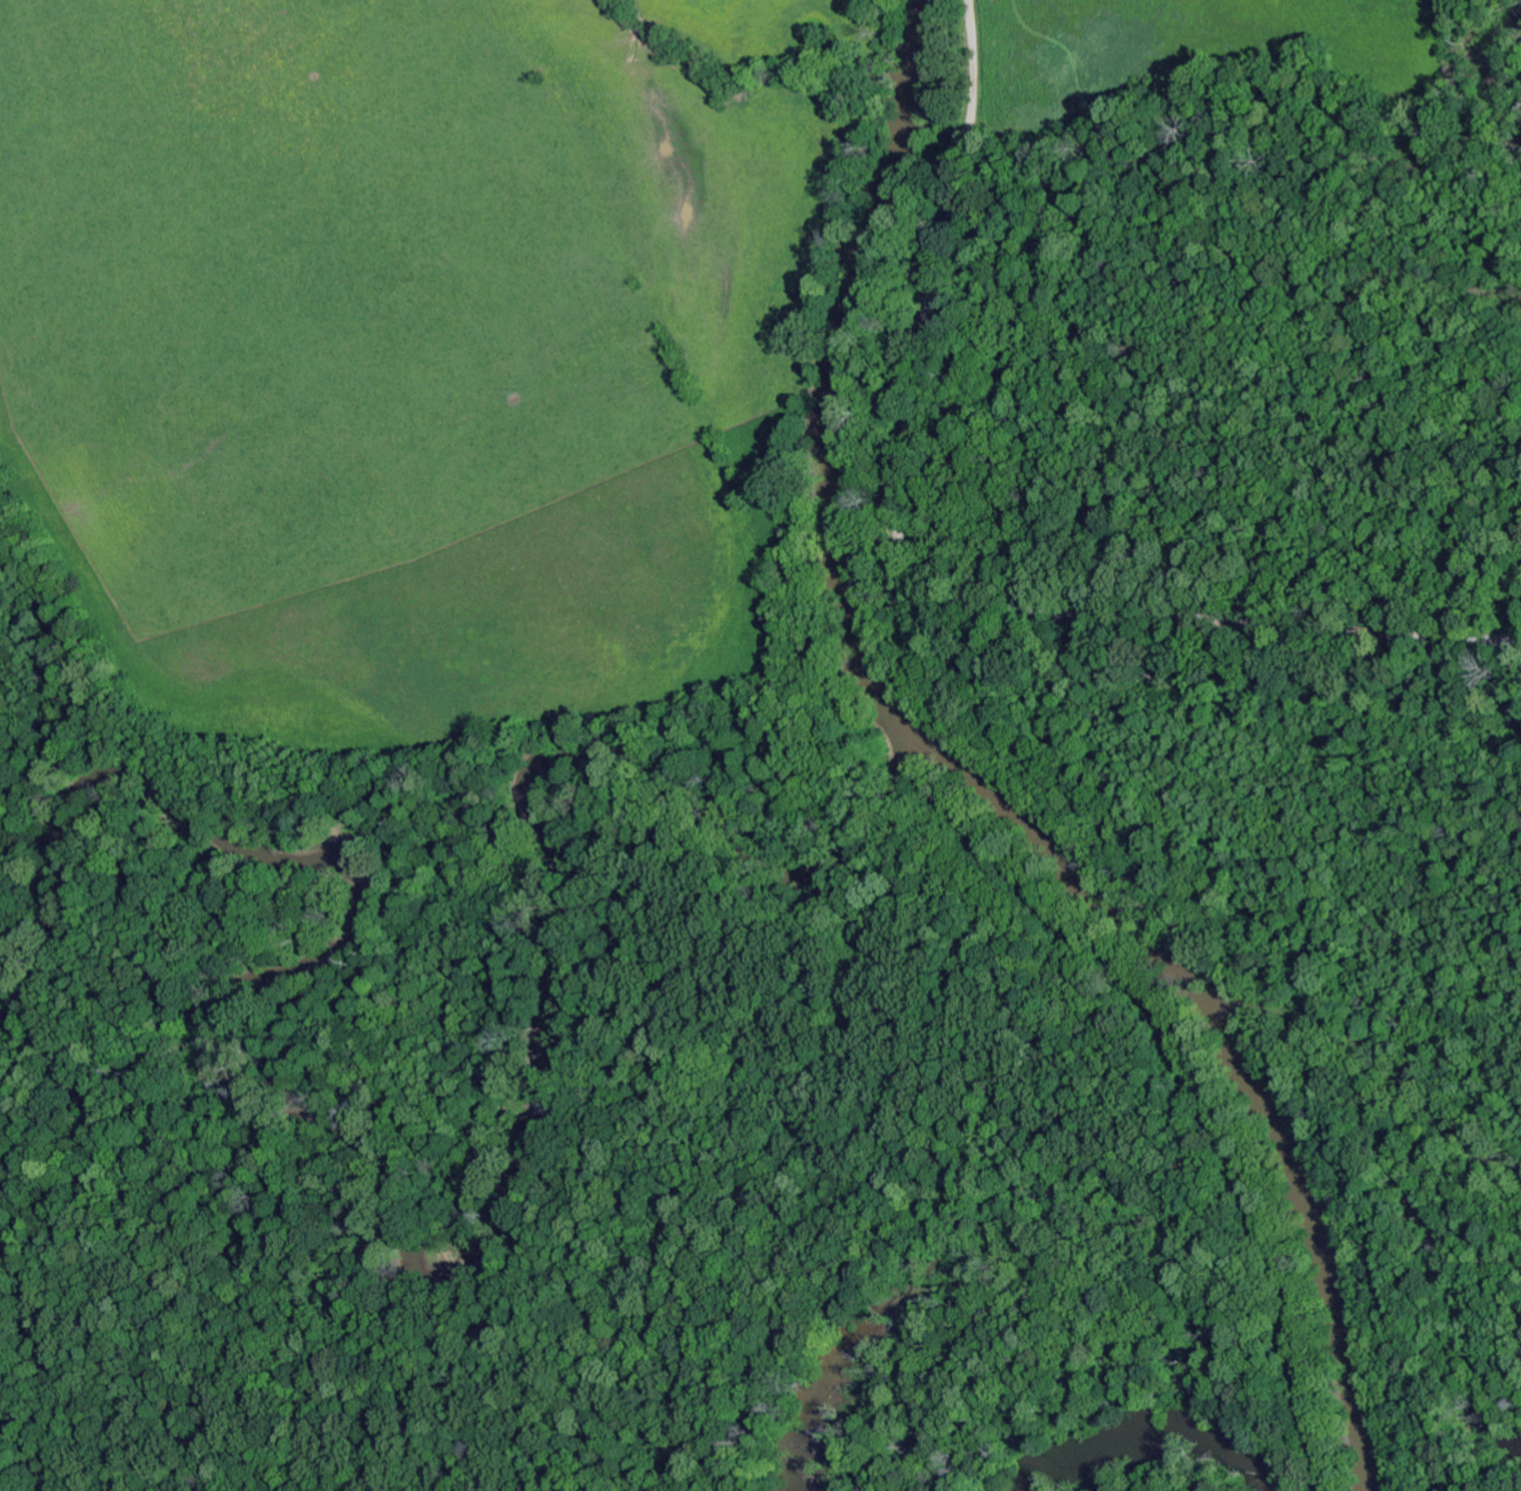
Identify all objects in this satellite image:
road: (927, 582)
river: (982, 772)
river: (408, 1236)

